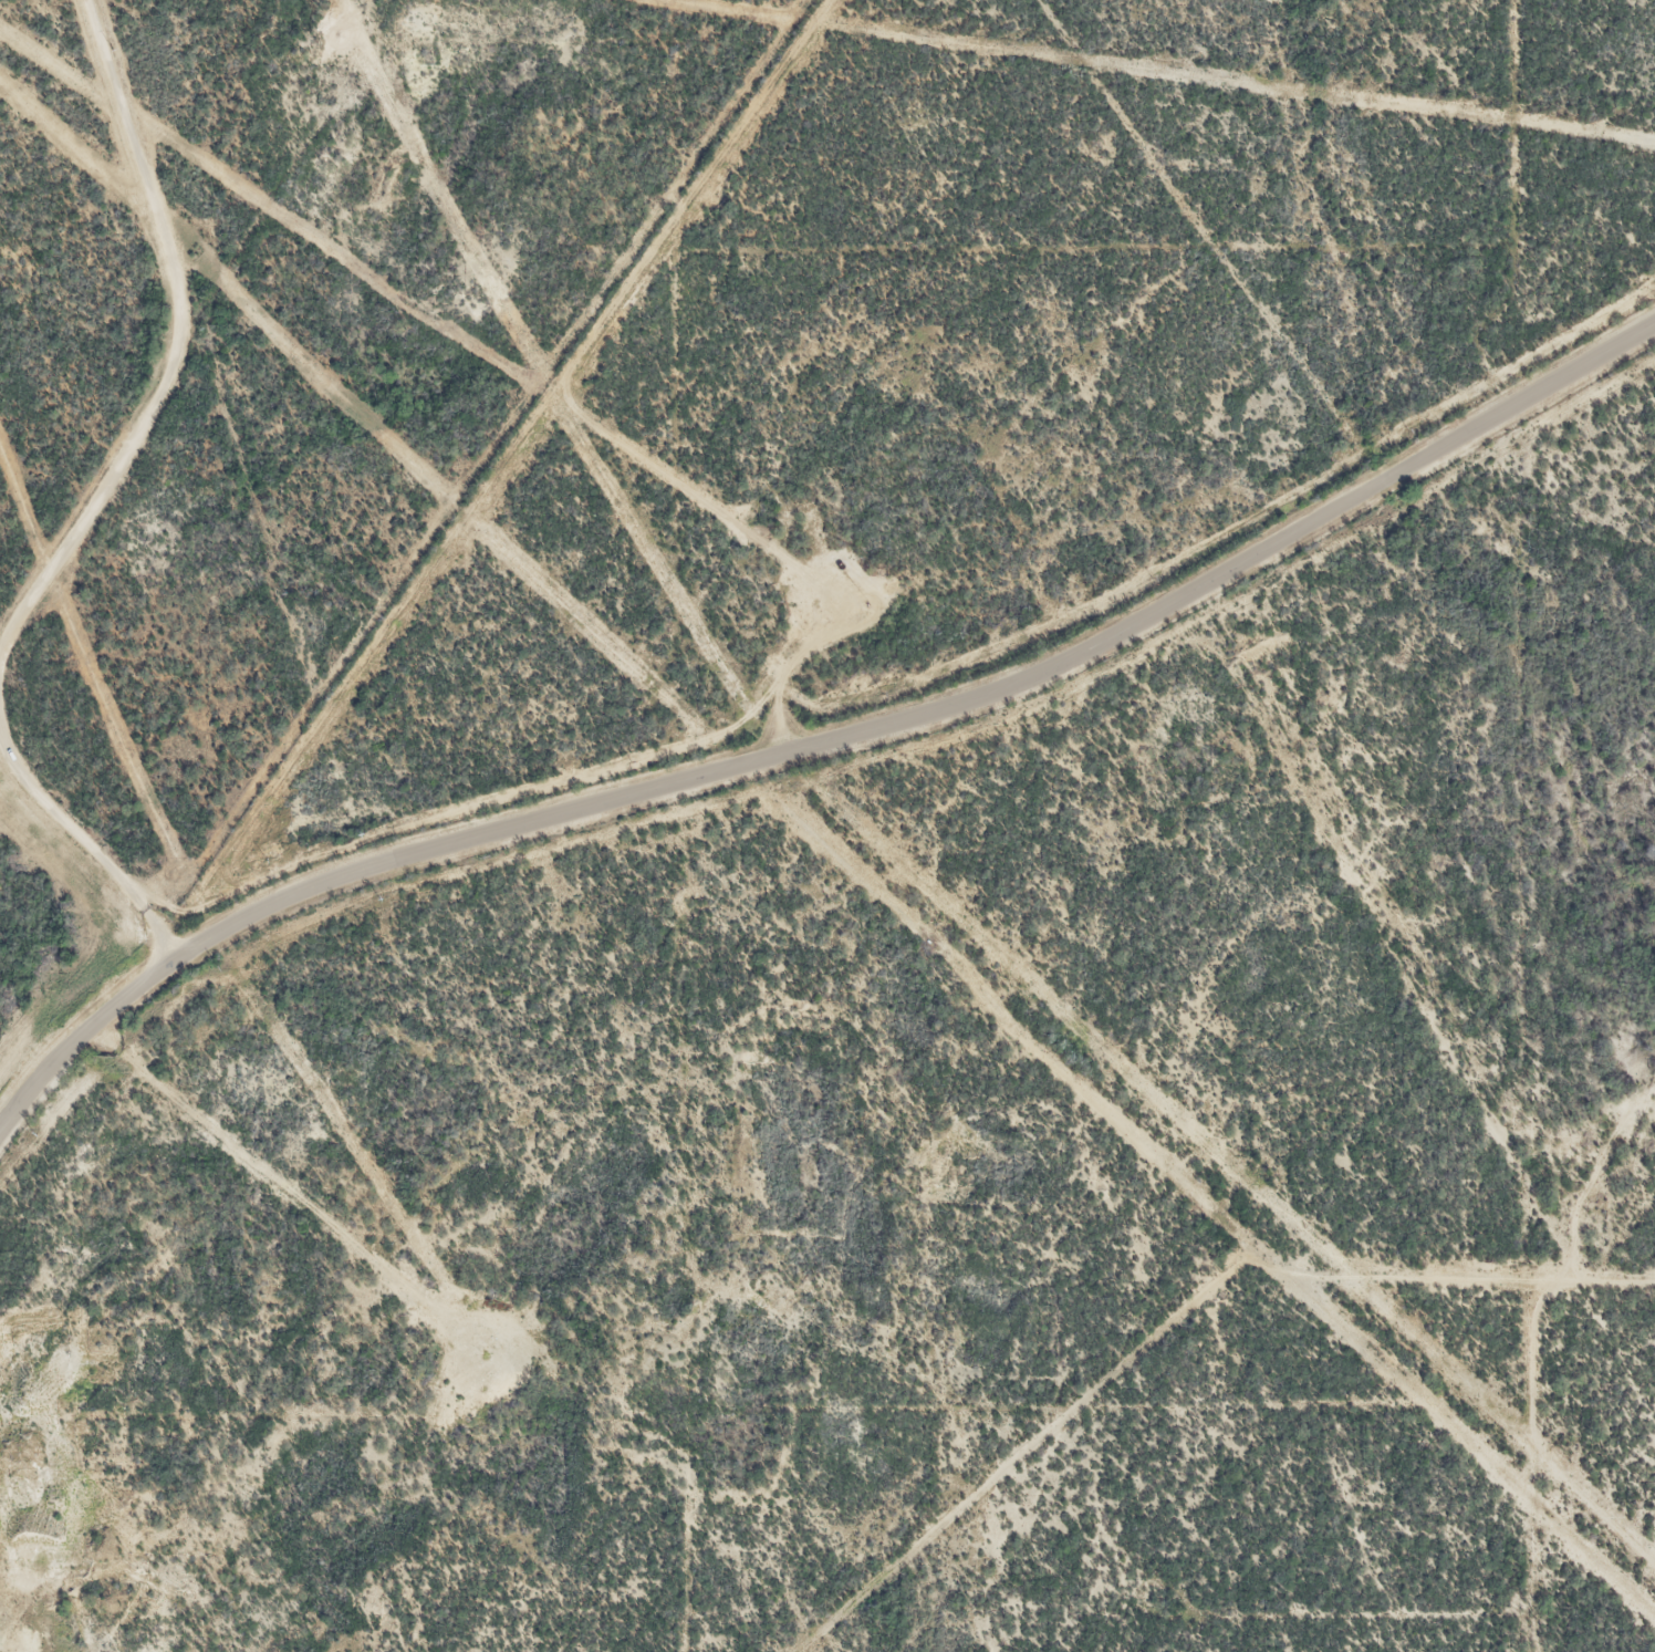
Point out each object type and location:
road: (950, 721)
road: (80, 1019)

